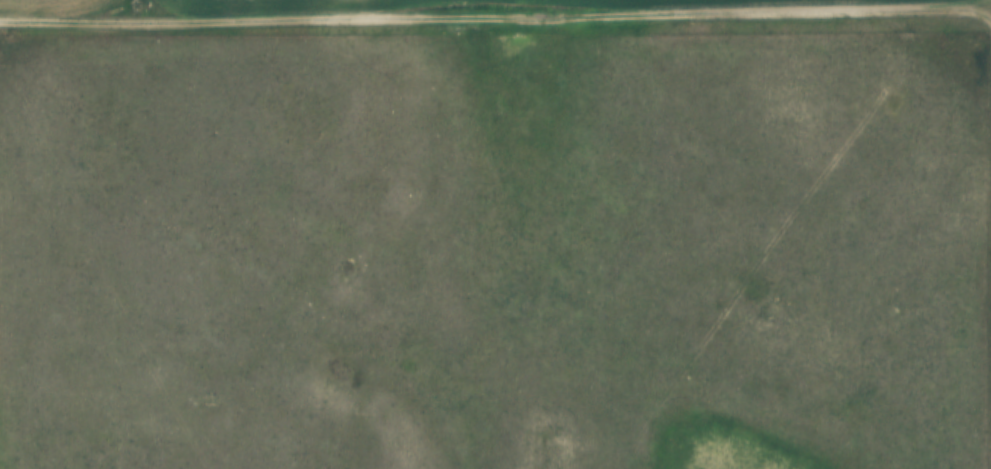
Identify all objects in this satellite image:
road: (495, 15)

